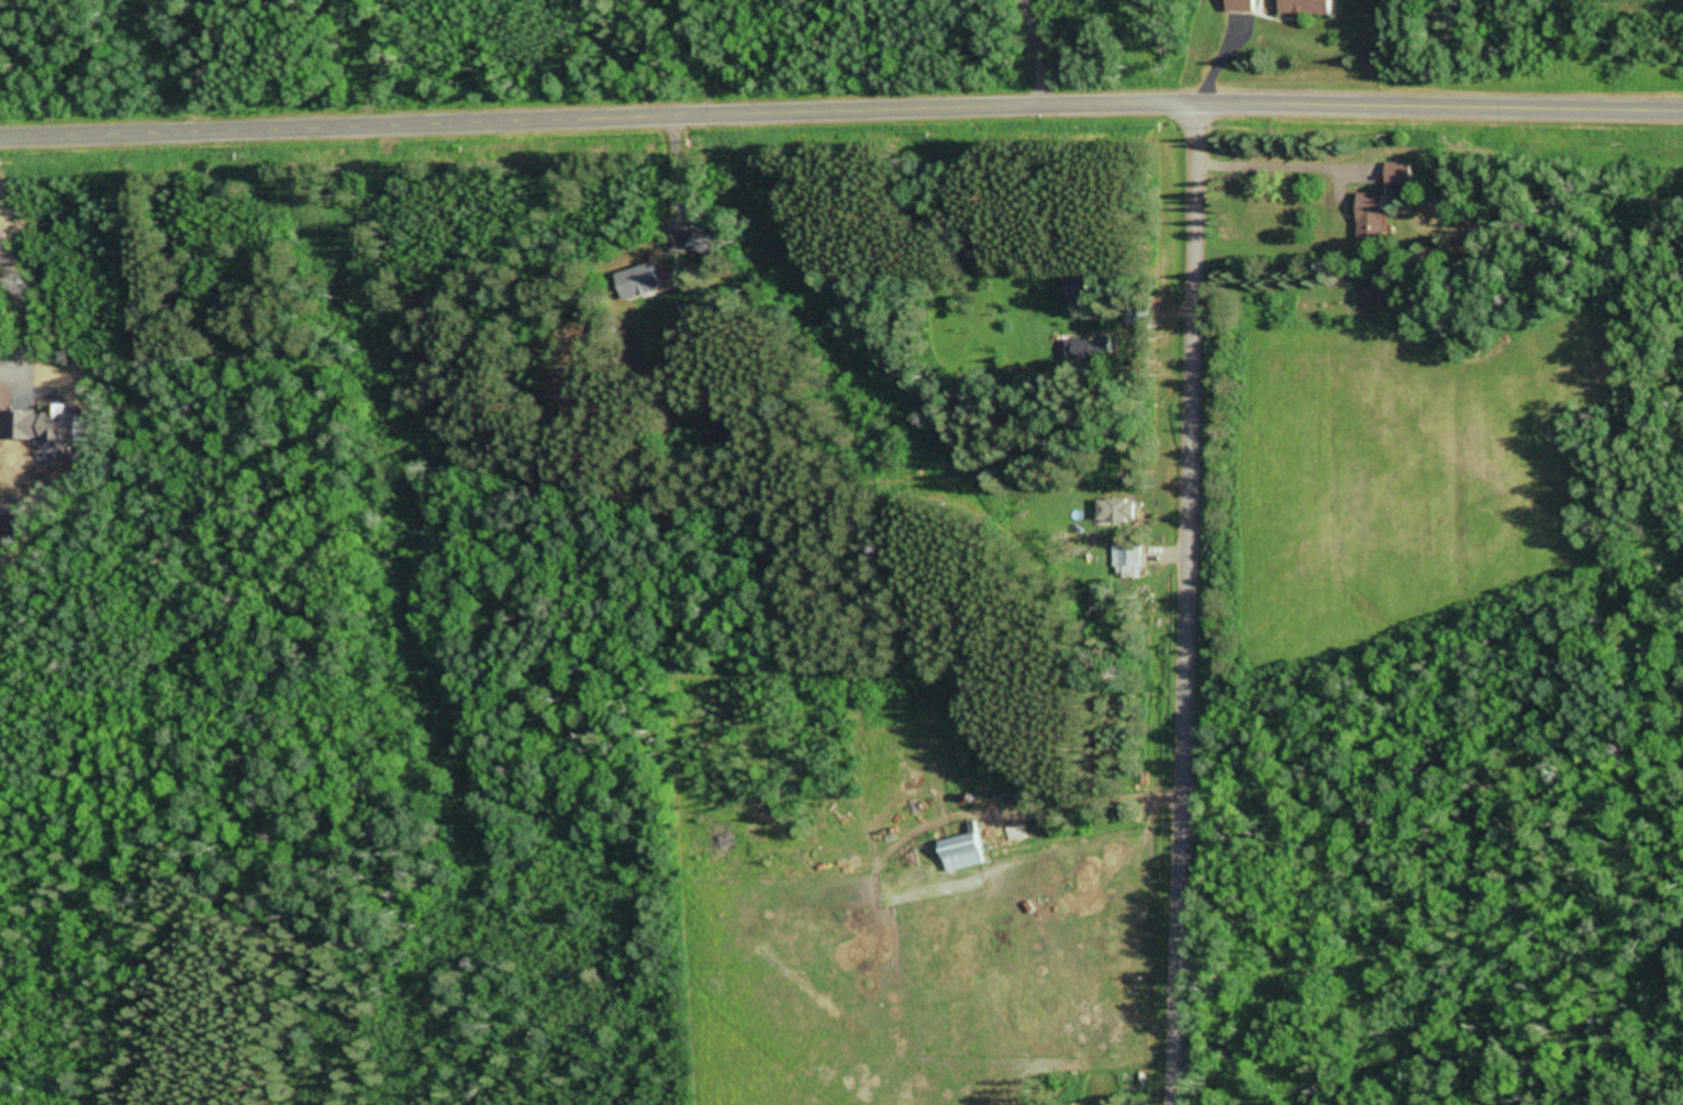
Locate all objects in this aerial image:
building: (1240, 7)
building: (1304, 8)
road: (840, 112)
building: (1395, 176)
building: (1430, 176)
building: (1368, 217)
building: (702, 245)
building: (637, 284)
building: (1074, 289)
building: (1136, 313)
building: (1089, 350)
building: (1115, 512)
building: (1126, 563)
road: (1186, 603)
building: (960, 853)

